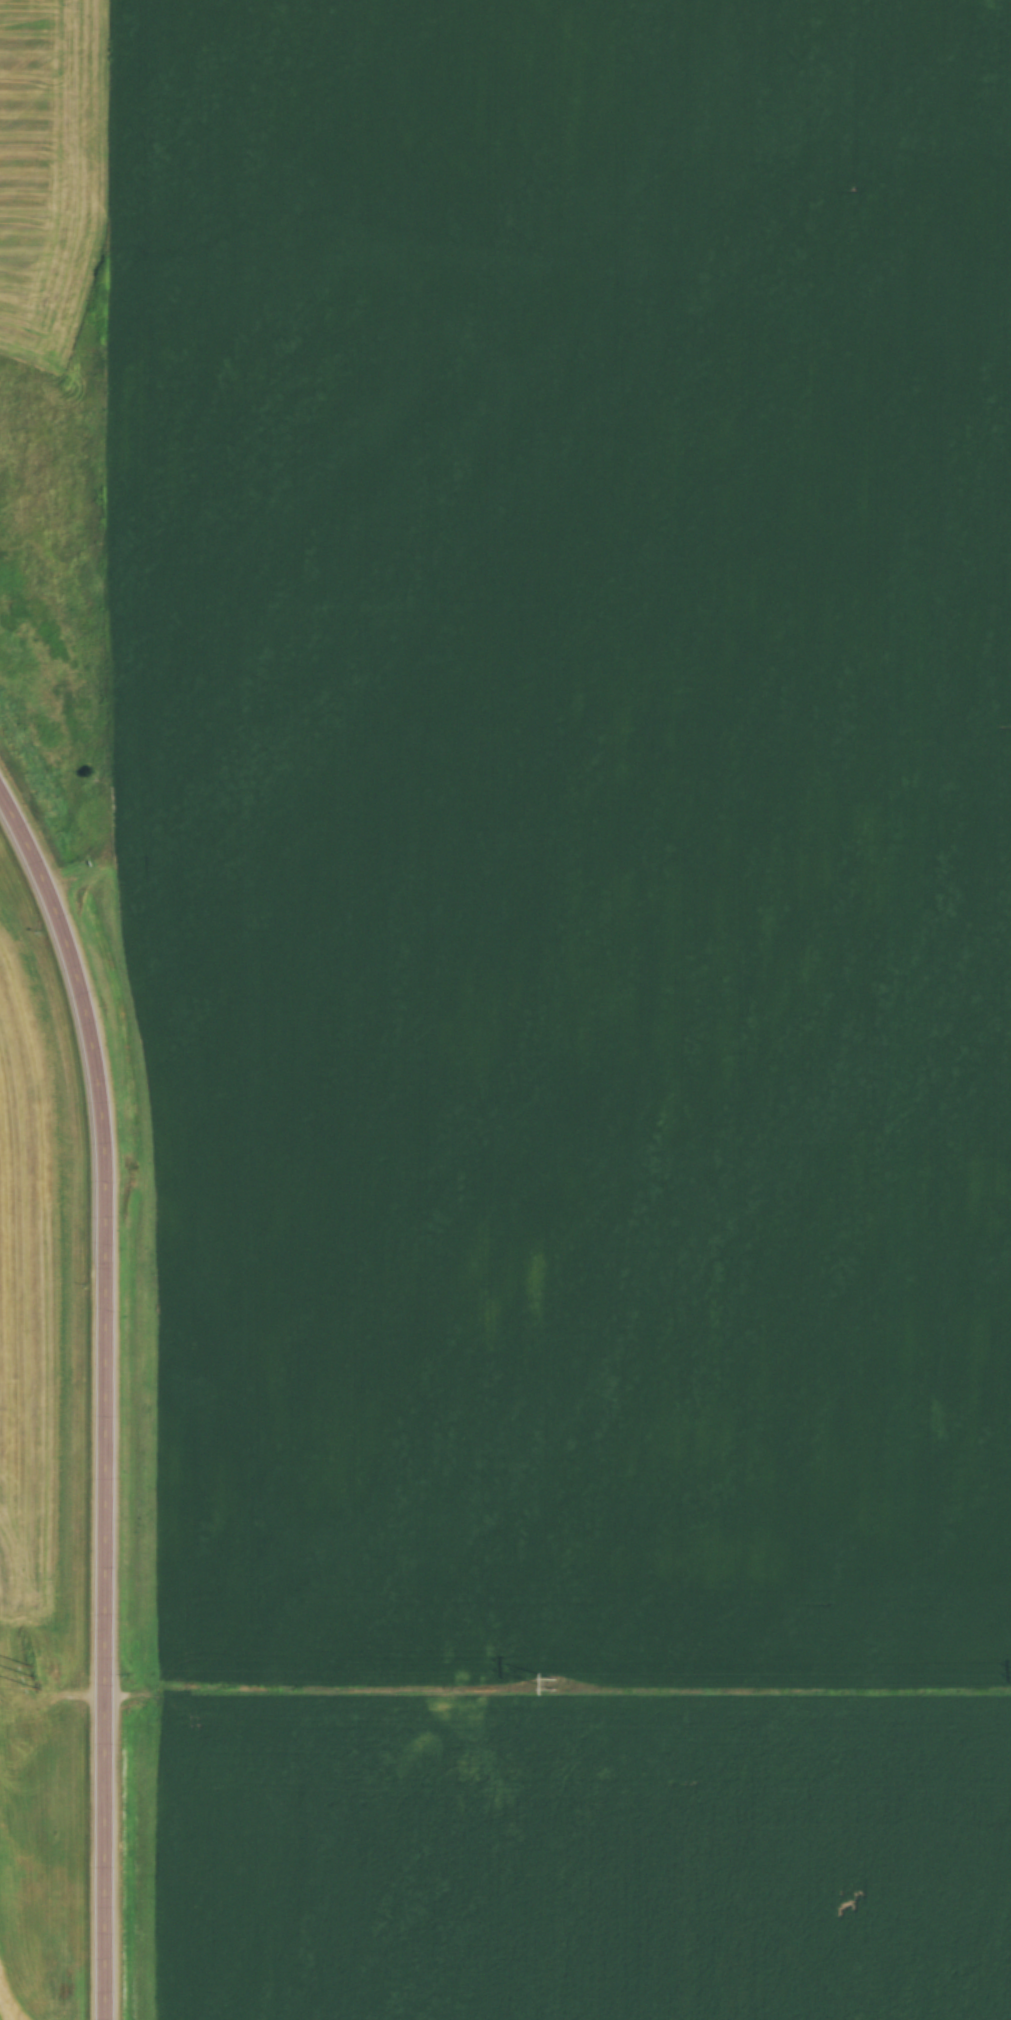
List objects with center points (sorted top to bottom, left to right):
road: (108, 1398)
power tower: (36, 1684)
power tower: (556, 1688)

